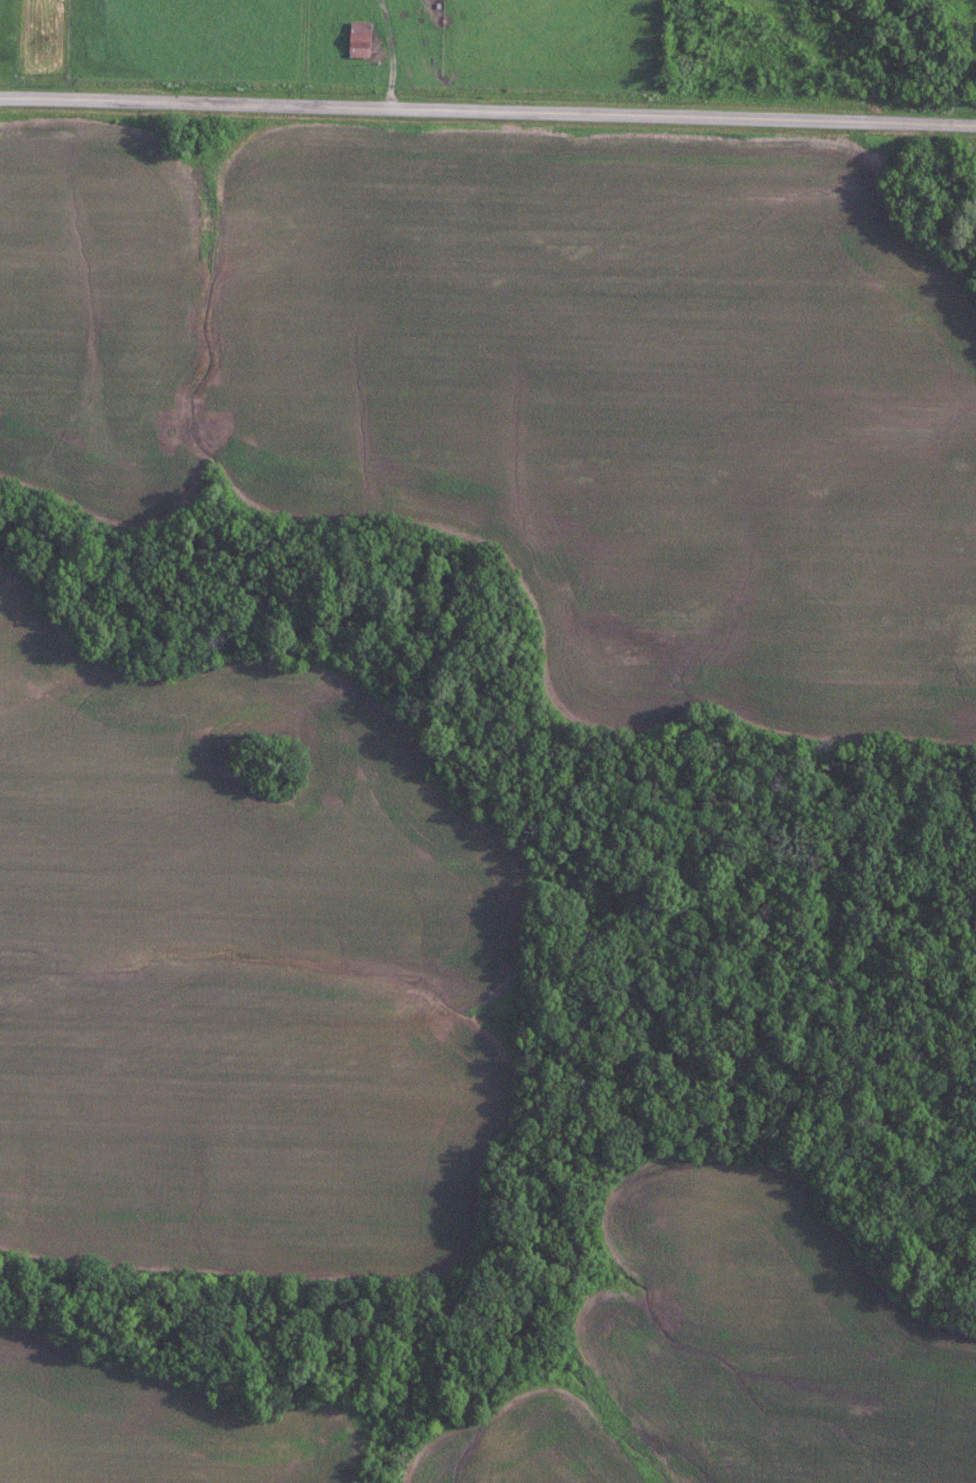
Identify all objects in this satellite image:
building: (359, 38)
road: (488, 108)

